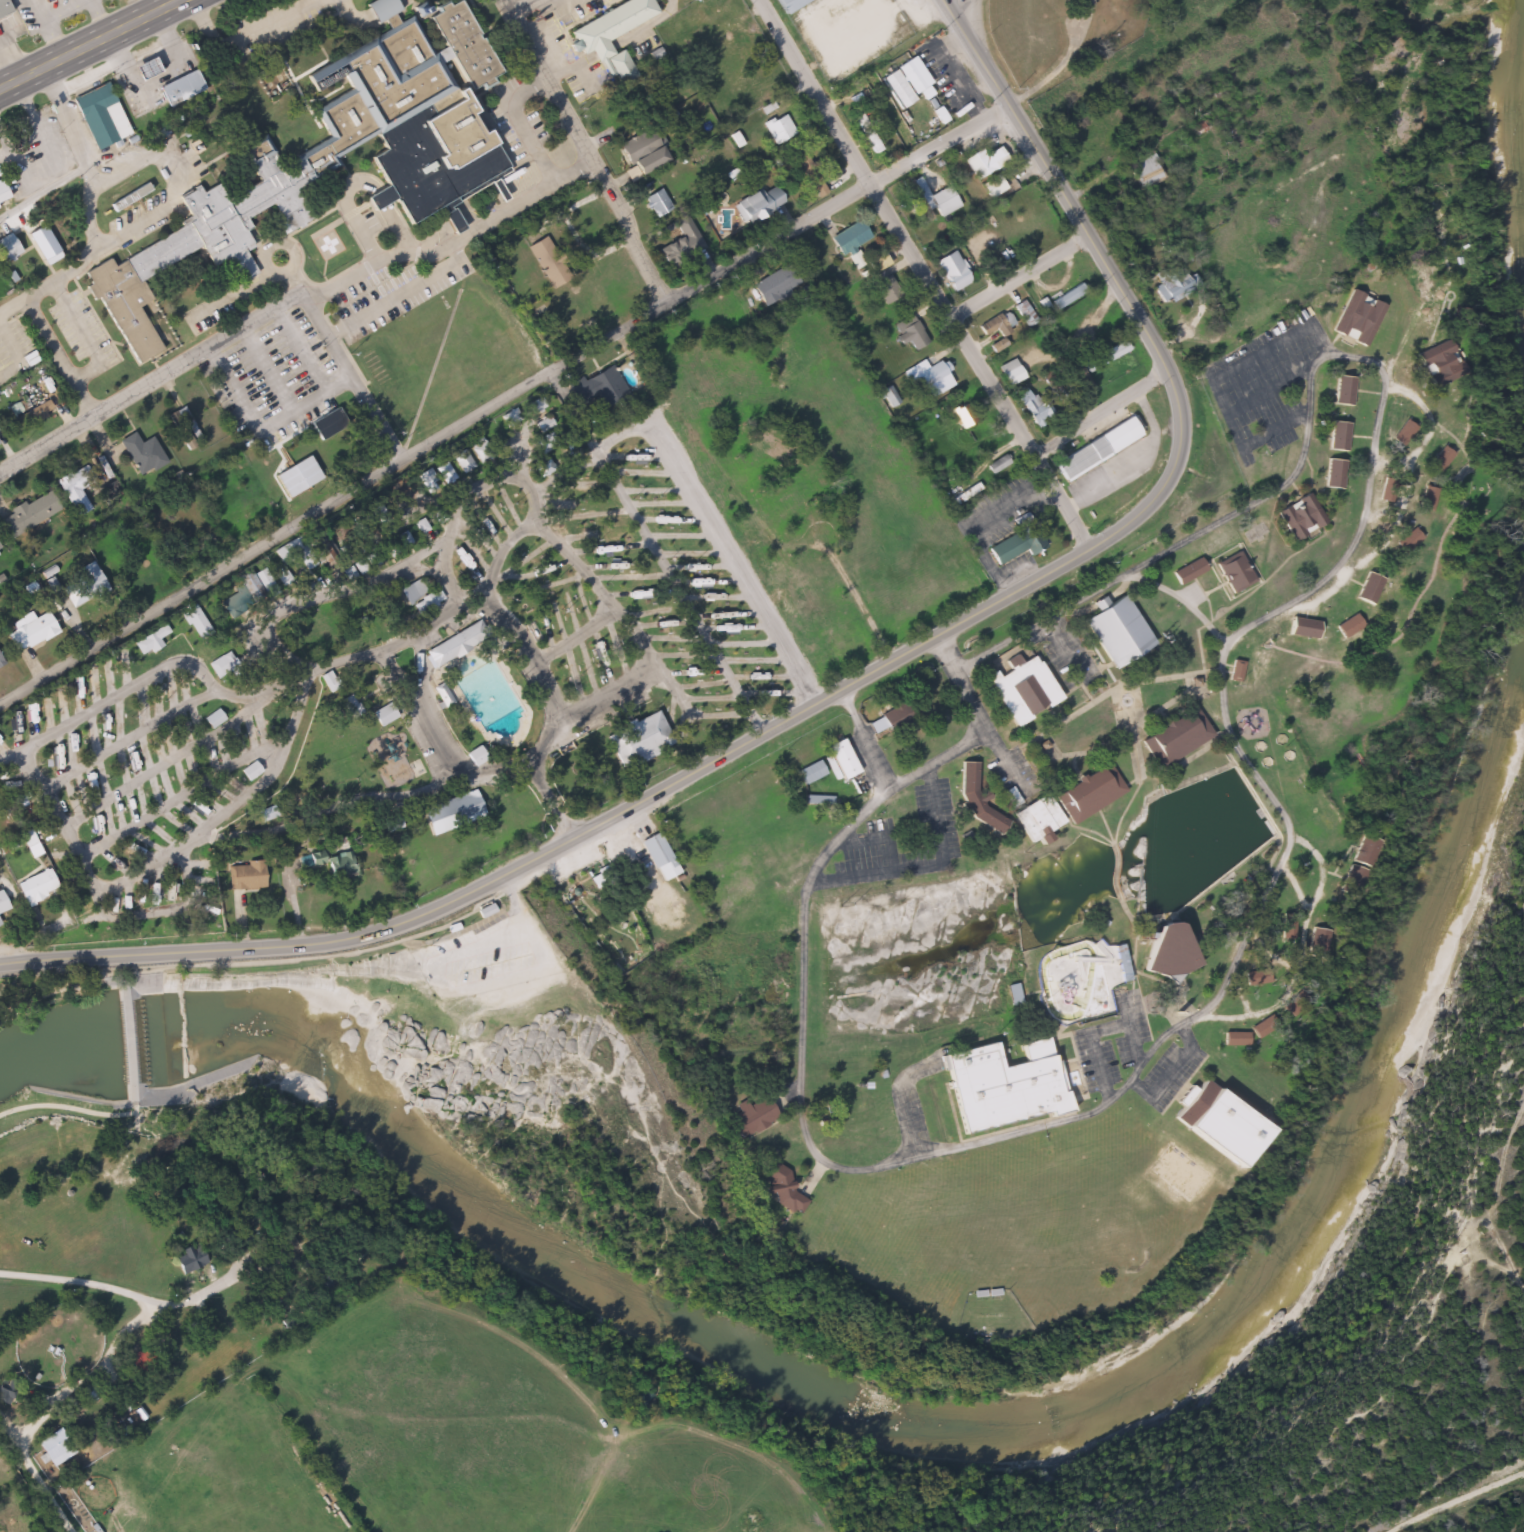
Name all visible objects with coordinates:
building: (39, 0)
building: (783, 4)
road: (949, 7)
road: (960, 7)
building: (2, 8)
road: (526, 10)
road: (245, 34)
building: (610, 34)
road: (94, 49)
building: (178, 88)
building: (894, 89)
building: (605, 111)
building: (100, 116)
building: (777, 129)
building: (867, 134)
building: (637, 148)
road: (80, 149)
road: (585, 150)
building: (982, 162)
building: (328, 163)
building: (1143, 172)
building: (808, 175)
building: (990, 186)
road: (44, 193)
building: (941, 202)
building: (655, 203)
building: (757, 203)
building: (678, 237)
building: (848, 238)
road: (452, 242)
helipad: (328, 244)
building: (7, 249)
building: (875, 262)
building: (951, 271)
road: (922, 275)
road: (1021, 278)
building: (1169, 286)
building: (1066, 297)
building: (554, 318)
building: (1356, 319)
building: (992, 325)
building: (907, 333)
building: (1102, 357)
road: (561, 365)
building: (1007, 373)
road: (352, 377)
building: (930, 377)
road: (151, 384)
building: (1342, 391)
building: (602, 392)
building: (1030, 408)
building: (28, 414)
road: (1100, 417)
building: (327, 425)
building: (1337, 436)
building: (545, 443)
building: (1094, 450)
building: (479, 451)
building: (141, 455)
building: (1437, 459)
building: (462, 462)
building: (445, 473)
building: (1333, 474)
building: (427, 483)
building: (296, 484)
building: (81, 487)
building: (232, 516)
building: (1301, 521)
road: (1356, 530)
building: (1015, 545)
road: (657, 553)
building: (1188, 571)
building: (1233, 573)
building: (82, 586)
building: (249, 587)
building: (411, 591)
building: (197, 624)
building: (1302, 627)
building: (1347, 627)
building: (1115, 631)
building: (28, 633)
building: (150, 641)
building: (455, 644)
road: (1060, 645)
building: (0, 664)
building: (220, 665)
building: (1235, 671)
road: (847, 686)
building: (1021, 691)
building: (440, 695)
building: (384, 715)
building: (895, 717)
building: (1176, 738)
building: (840, 760)
road: (939, 761)
road: (526, 767)
building: (809, 773)
building: (1089, 794)
building: (818, 801)
building: (975, 802)
building: (450, 814)
building: (1036, 820)
building: (1360, 852)
building: (658, 857)
building: (244, 877)
building: (38, 886)
road: (507, 899)
building: (2, 906)
building: (1164, 950)
road: (250, 966)
building: (1083, 987)
building: (1235, 1039)
park: (540, 1085)
building: (1001, 1087)
road: (796, 1102)
road: (67, 1107)
building: (748, 1118)
building: (1215, 1122)
building: (779, 1187)
building: (188, 1257)
road: (250, 1270)
road: (132, 1319)
building: (87, 1393)
road: (12, 1435)
building: (54, 1448)
road: (1451, 1498)

